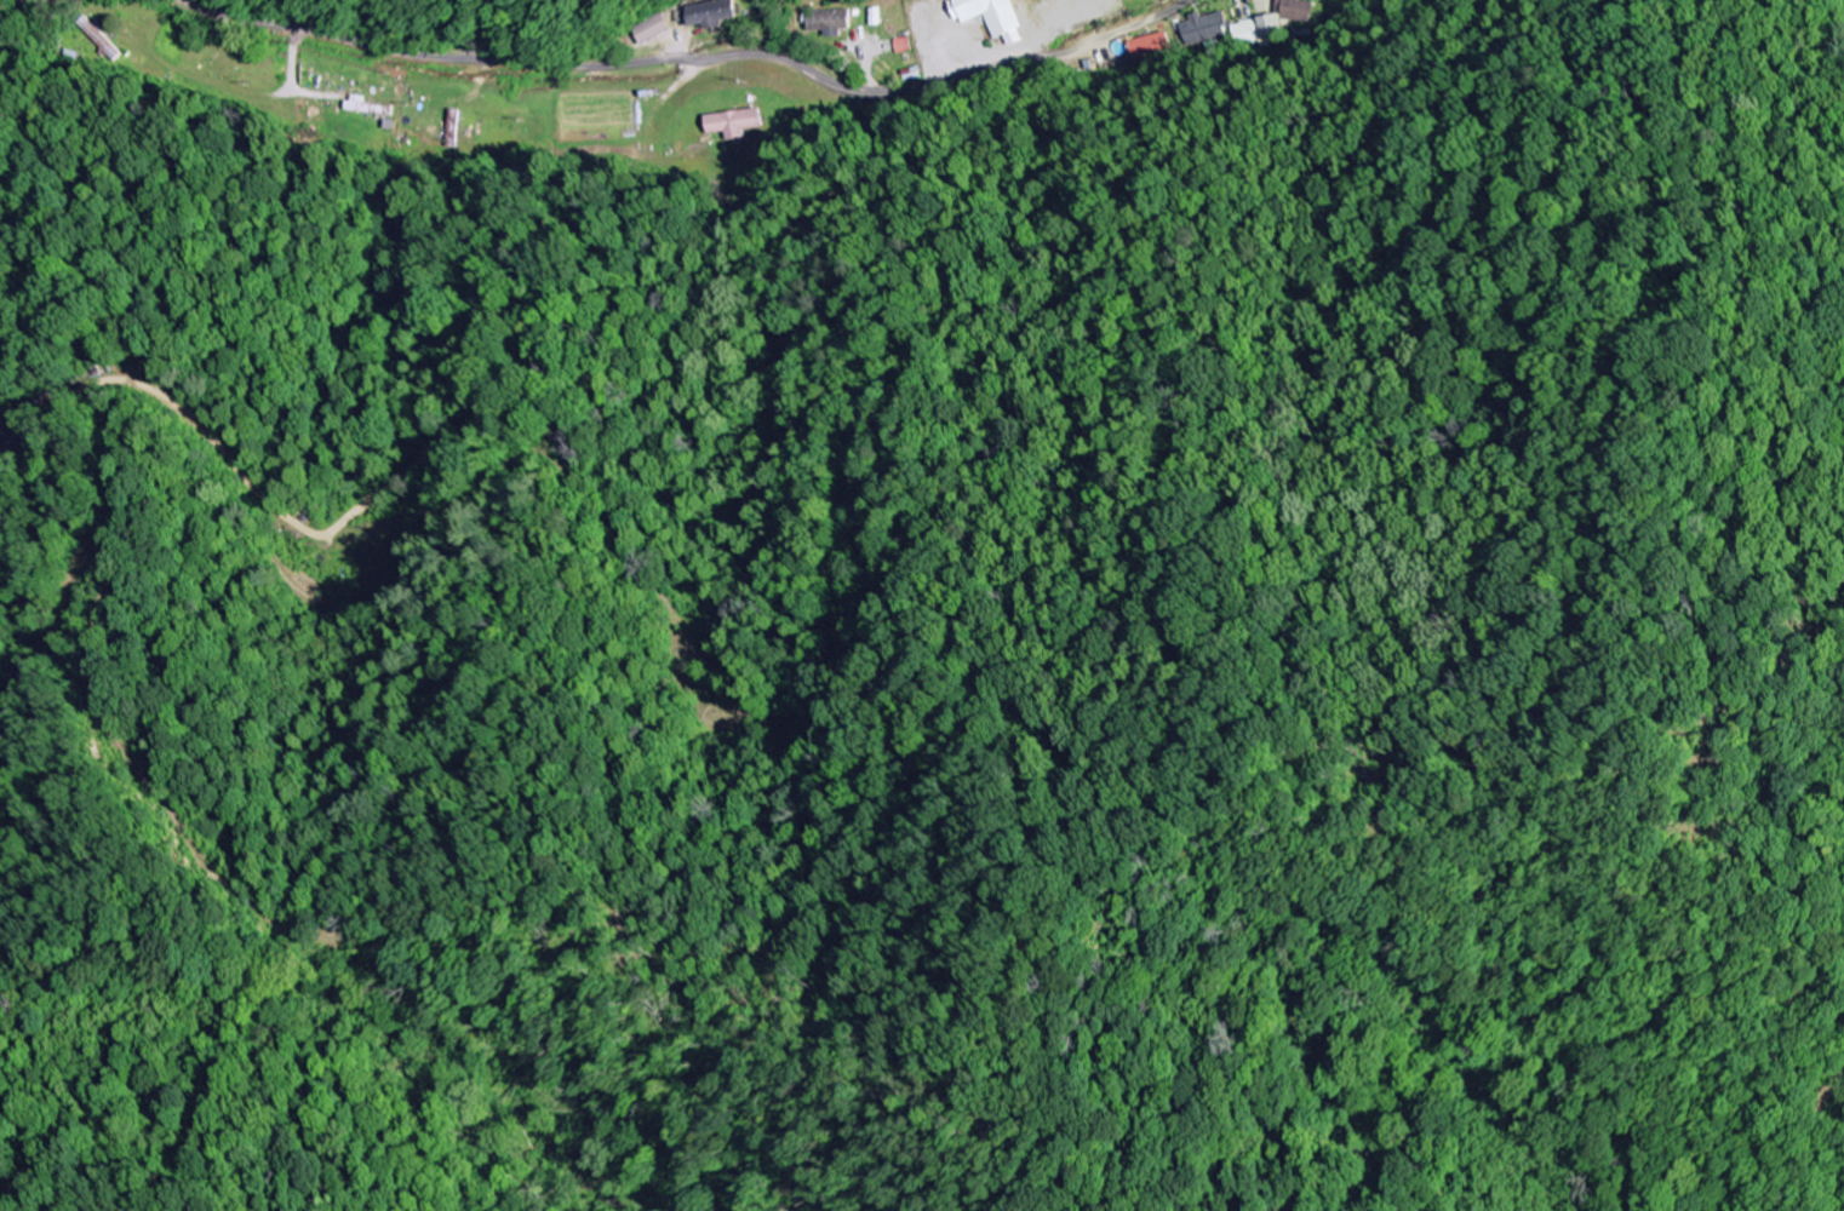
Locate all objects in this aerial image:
road: (16, 4)
building: (711, 15)
building: (990, 15)
building: (827, 23)
building: (1202, 25)
building: (649, 30)
building: (1269, 35)
building: (99, 39)
building: (1150, 47)
road: (405, 51)
road: (912, 88)
building: (367, 109)
building: (734, 125)
road: (698, 589)

